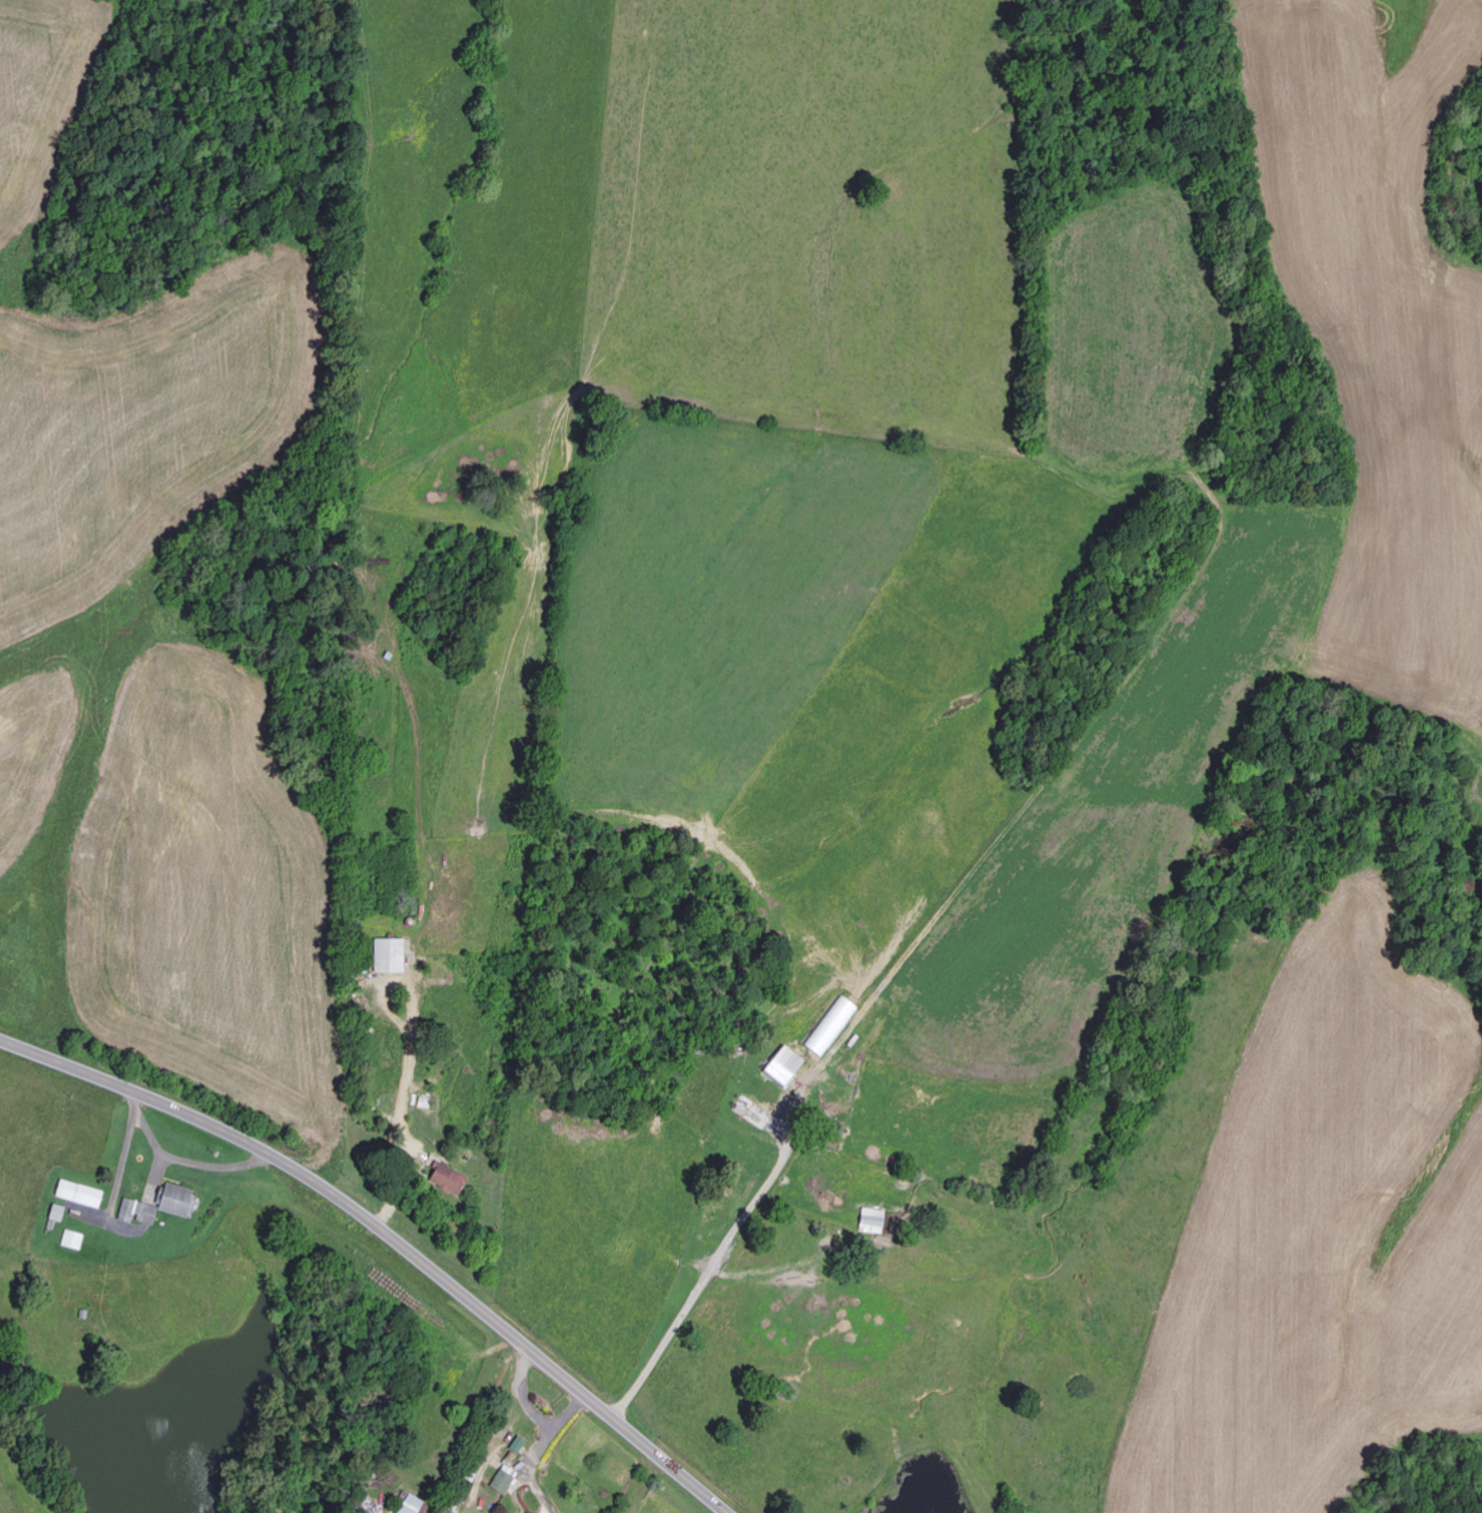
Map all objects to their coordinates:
building: (393, 957)
building: (787, 1068)
building: (453, 1181)
building: (82, 1194)
building: (181, 1201)
building: (140, 1212)
building: (60, 1214)
building: (874, 1221)
road: (393, 1232)
building: (74, 1240)
road: (699, 1301)
building: (505, 1482)
building: (417, 1505)

